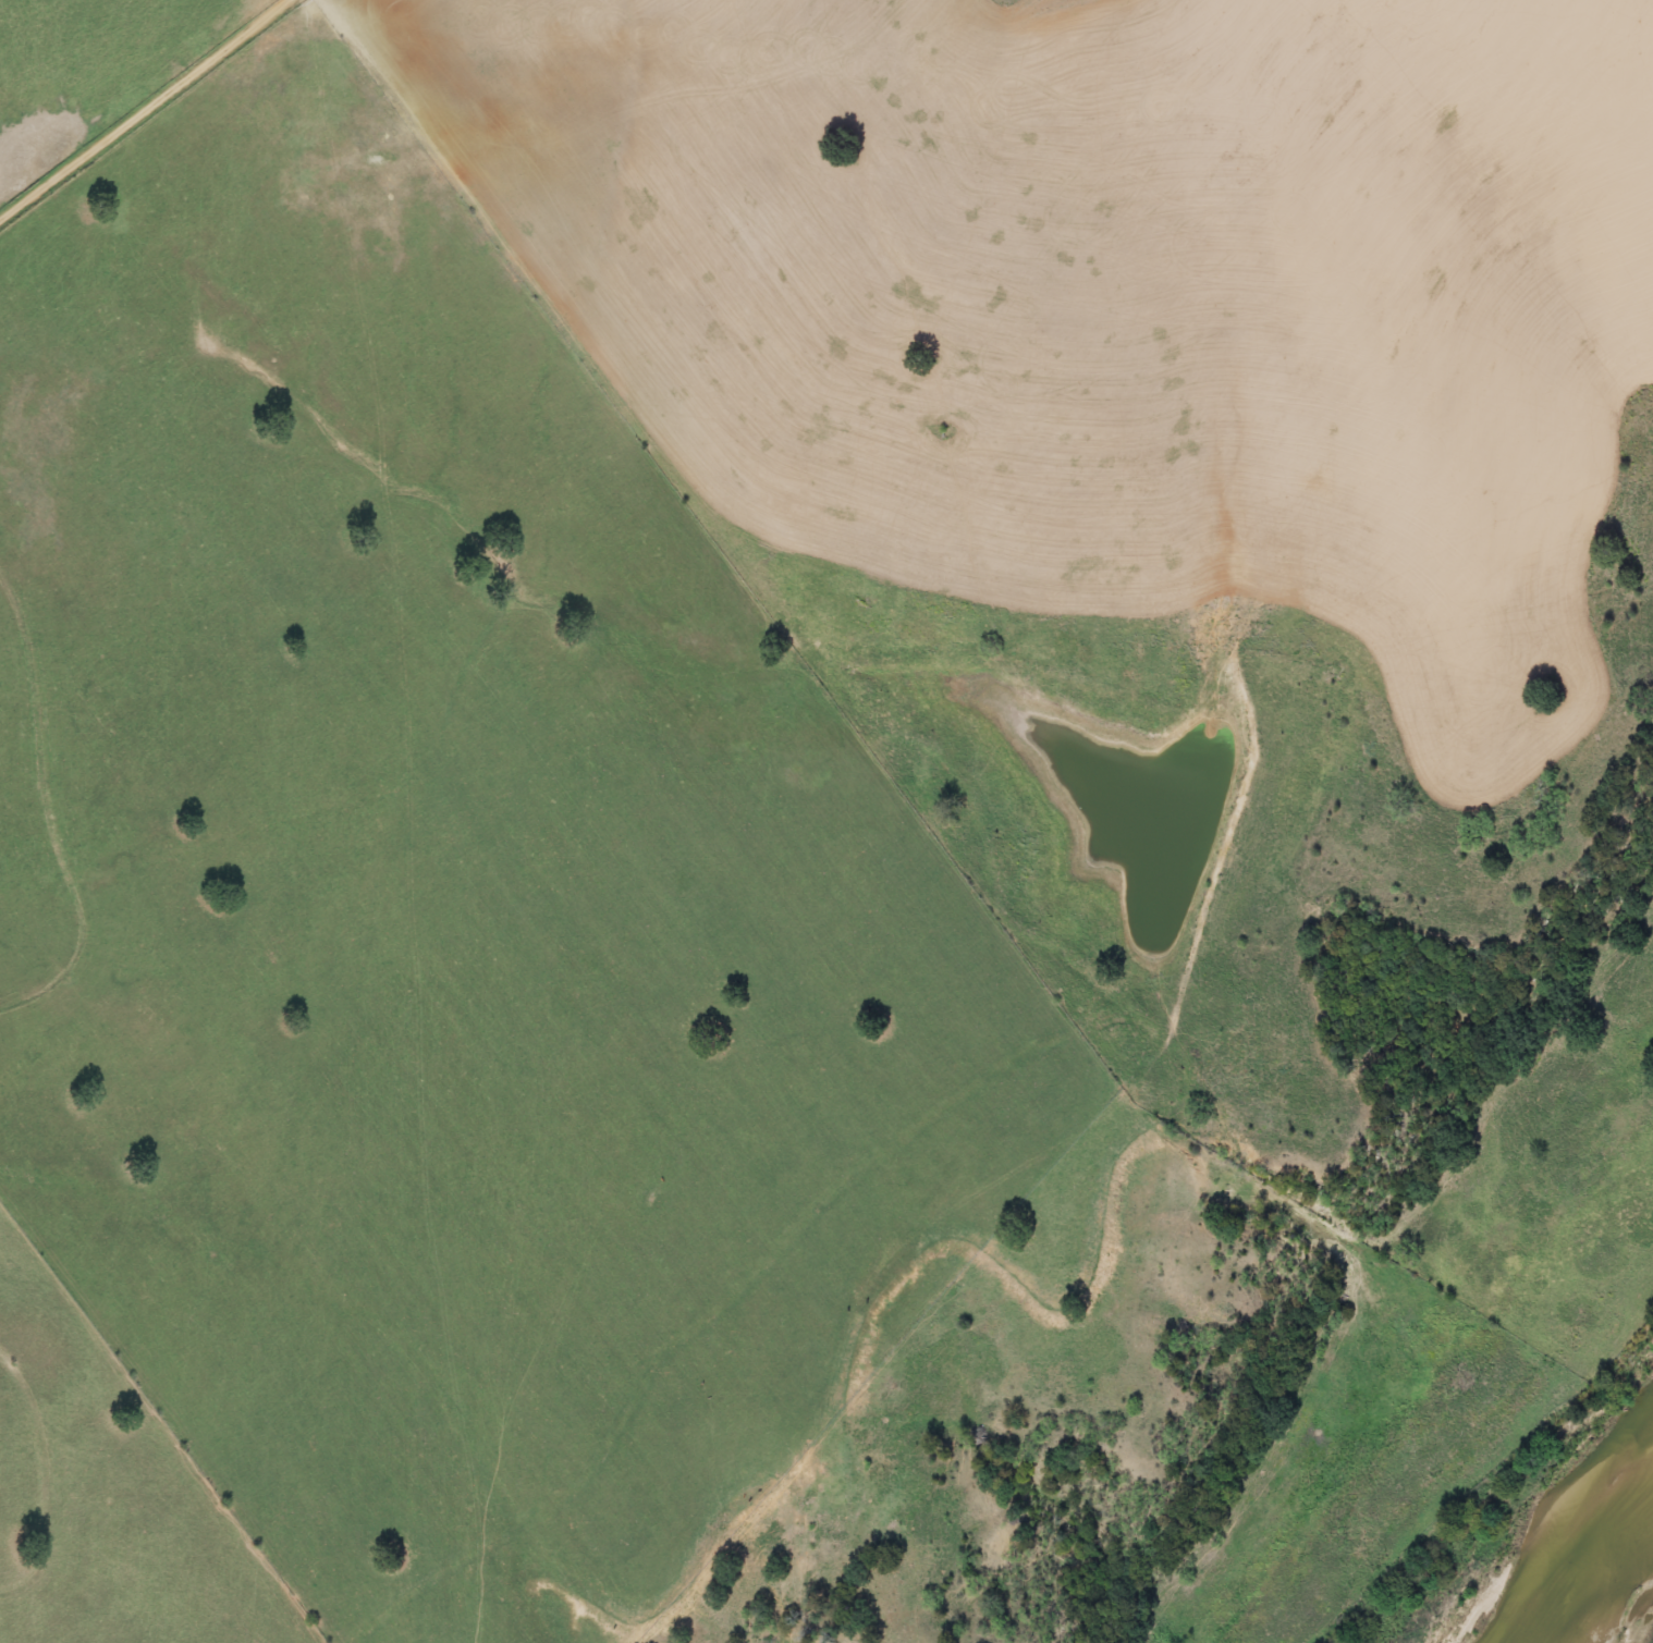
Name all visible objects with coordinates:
river: (1585, 1548)

